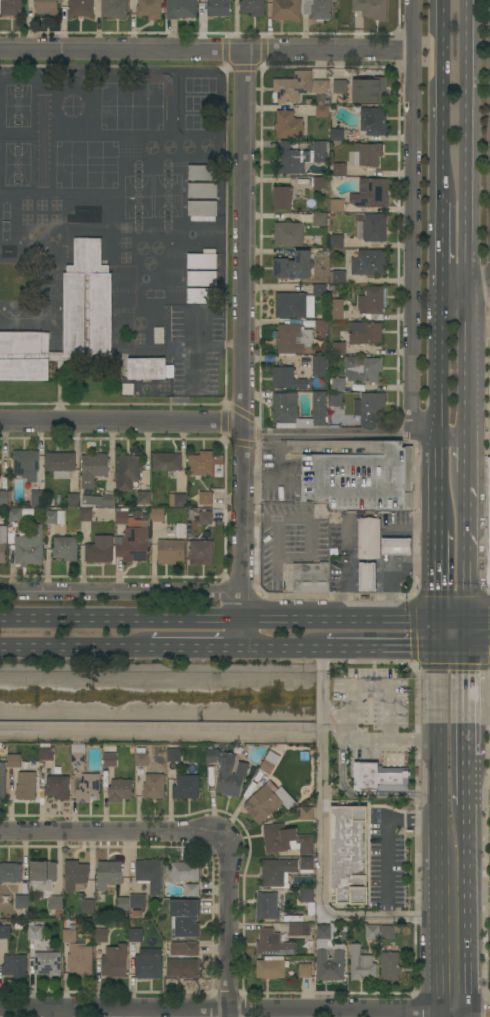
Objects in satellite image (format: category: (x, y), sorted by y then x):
building: (47, 6)
building: (253, 7)
building: (10, 8)
building: (80, 8)
building: (114, 8)
building: (218, 8)
building: (149, 9)
building: (180, 9)
building: (317, 9)
building: (371, 9)
building: (286, 10)
road: (206, 54)
building: (340, 82)
building: (297, 87)
building: (369, 90)
building: (320, 100)
building: (322, 111)
building: (373, 121)
building: (288, 125)
building: (337, 135)
building: (367, 155)
building: (300, 157)
building: (339, 169)
building: (202, 172)
building: (319, 182)
building: (202, 190)
building: (370, 194)
building: (282, 197)
building: (336, 205)
building: (202, 208)
building: (319, 219)
road: (443, 219)
building: (374, 228)
building: (288, 234)
building: (317, 241)
building: (336, 241)
road: (469, 244)
road: (414, 246)
building: (202, 261)
building: (369, 263)
building: (293, 266)
building: (339, 277)
building: (202, 278)
road: (480, 287)
building: (319, 290)
building: (201, 295)
road: (480, 296)
building: (372, 303)
building: (291, 305)
building: (336, 309)
building: (67, 320)
building: (321, 327)
building: (366, 334)
building: (159, 335)
building: (294, 340)
building: (338, 348)
road: (244, 352)
building: (318, 365)
building: (149, 369)
building: (363, 369)
building: (287, 378)
building: (338, 385)
building: (356, 387)
building: (127, 389)
building: (335, 400)
building: (370, 408)
building: (284, 411)
road: (122, 421)
building: (489, 424)
road: (329, 435)
building: (26, 464)
building: (60, 464)
building: (167, 464)
building: (201, 464)
building: (218, 467)
building: (93, 469)
building: (127, 471)
building: (360, 479)
building: (4, 497)
building: (37, 497)
building: (144, 498)
building: (205, 498)
building: (73, 500)
building: (99, 500)
building: (177, 500)
building: (15, 514)
building: (92, 514)
building: (157, 515)
building: (53, 516)
building: (205, 518)
building: (181, 531)
road: (309, 537)
building: (132, 538)
building: (369, 538)
gas station: (369, 538)
building: (3, 543)
road: (439, 544)
building: (396, 547)
building: (29, 548)
building: (65, 548)
building: (99, 550)
building: (170, 551)
building: (201, 553)
road: (470, 570)
building: (311, 578)
building: (368, 578)
road: (119, 593)
road: (234, 617)
traffic signals: (438, 619)
traffic signals: (470, 619)
road: (480, 619)
road: (69, 647)
road: (189, 649)
road: (281, 650)
road: (396, 650)
traffic signals: (439, 651)
traffic signals: (470, 651)
road: (480, 651)
road: (470, 702)
road: (332, 714)
road: (329, 725)
road: (387, 740)
building: (46, 754)
building: (78, 755)
building: (174, 755)
building: (142, 759)
building: (110, 760)
building: (14, 761)
building: (267, 766)
building: (228, 772)
building: (380, 777)
road: (470, 779)
building: (2, 782)
building: (26, 786)
building: (154, 786)
building: (57, 787)
building: (186, 787)
road: (342, 787)
building: (88, 788)
building: (120, 791)
road: (417, 793)
road: (480, 797)
building: (262, 804)
building: (306, 813)
road: (112, 831)
road: (440, 831)
building: (286, 840)
road: (323, 842)
road: (385, 843)
building: (349, 856)
building: (306, 865)
building: (184, 871)
building: (10, 872)
building: (75, 873)
building: (277, 873)
building: (108, 874)
building: (42, 875)
building: (150, 875)
building: (192, 890)
road: (480, 892)
building: (306, 895)
building: (138, 901)
building: (21, 902)
building: (56, 903)
building: (122, 903)
building: (88, 906)
building: (267, 906)
road: (470, 907)
parking lot: (489, 913)
building: (185, 917)
road: (228, 927)
building: (299, 929)
building: (5, 932)
building: (372, 932)
building: (387, 932)
building: (35, 933)
building: (135, 935)
building: (101, 936)
building: (273, 944)
building: (185, 949)
building: (329, 954)
building: (78, 955)
building: (114, 961)
building: (47, 963)
building: (148, 963)
building: (361, 964)
building: (15, 966)
building: (390, 966)
building: (183, 968)
building: (271, 968)
building: (305, 970)
road: (235, 1010)
road: (480, 1011)
road: (58, 1014)
road: (410, 1014)
road: (442, 1014)
road: (470, 1014)

